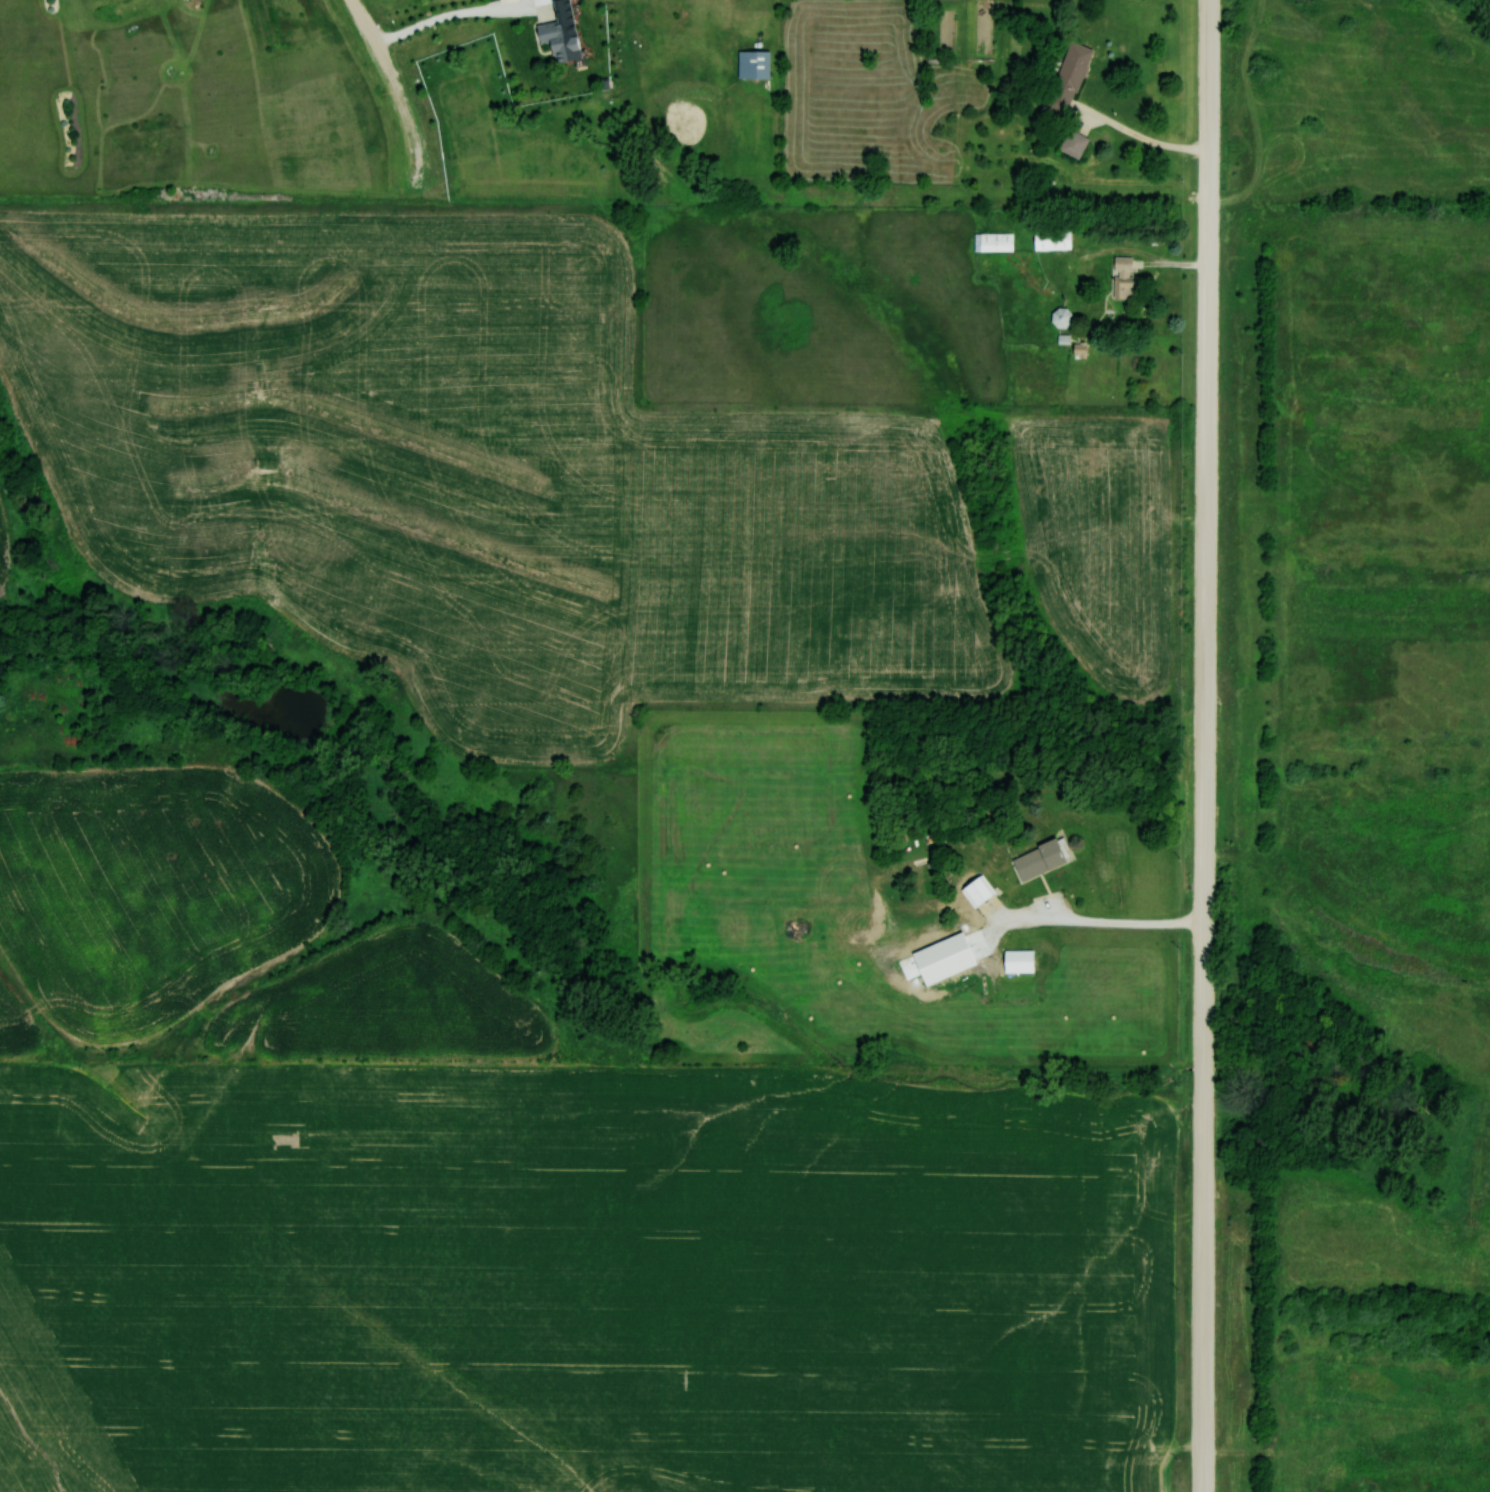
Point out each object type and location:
road: (438, 7)
building: (556, 37)
building: (752, 63)
building: (1066, 78)
road: (403, 96)
road: (1144, 135)
building: (1072, 142)
building: (1049, 238)
building: (991, 241)
building: (1121, 277)
building: (1059, 318)
road: (1205, 745)
building: (1038, 859)
building: (975, 889)
road: (1088, 921)
building: (1016, 960)

